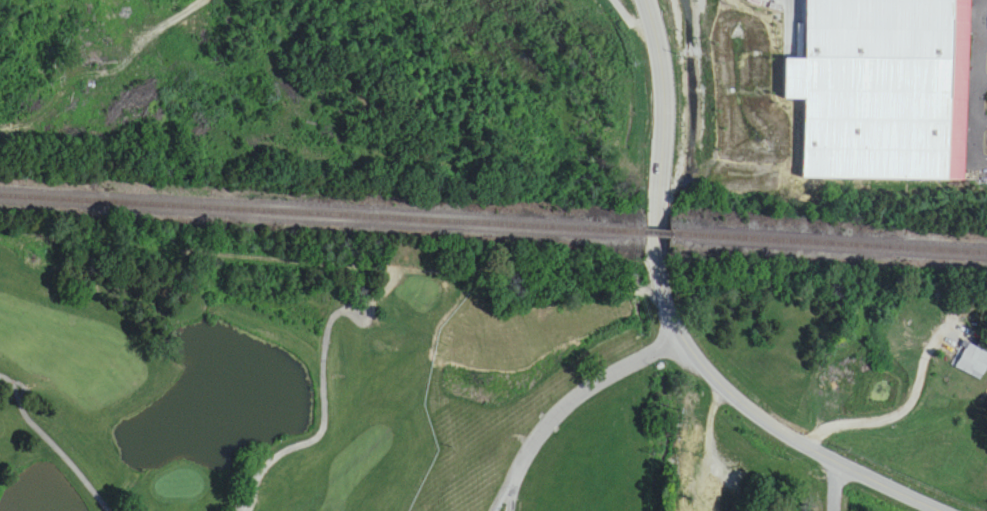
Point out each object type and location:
road: (629, 17)
road: (163, 25)
road: (984, 38)
road: (982, 82)
road: (984, 82)
road: (984, 119)
road: (662, 170)
railway: (320, 201)
railway: (658, 220)
railway: (831, 230)
road: (372, 312)
building: (970, 362)
road: (570, 404)
road: (899, 411)
road: (323, 429)
road: (52, 442)
road: (802, 442)
road: (837, 487)
building: (720, 492)

